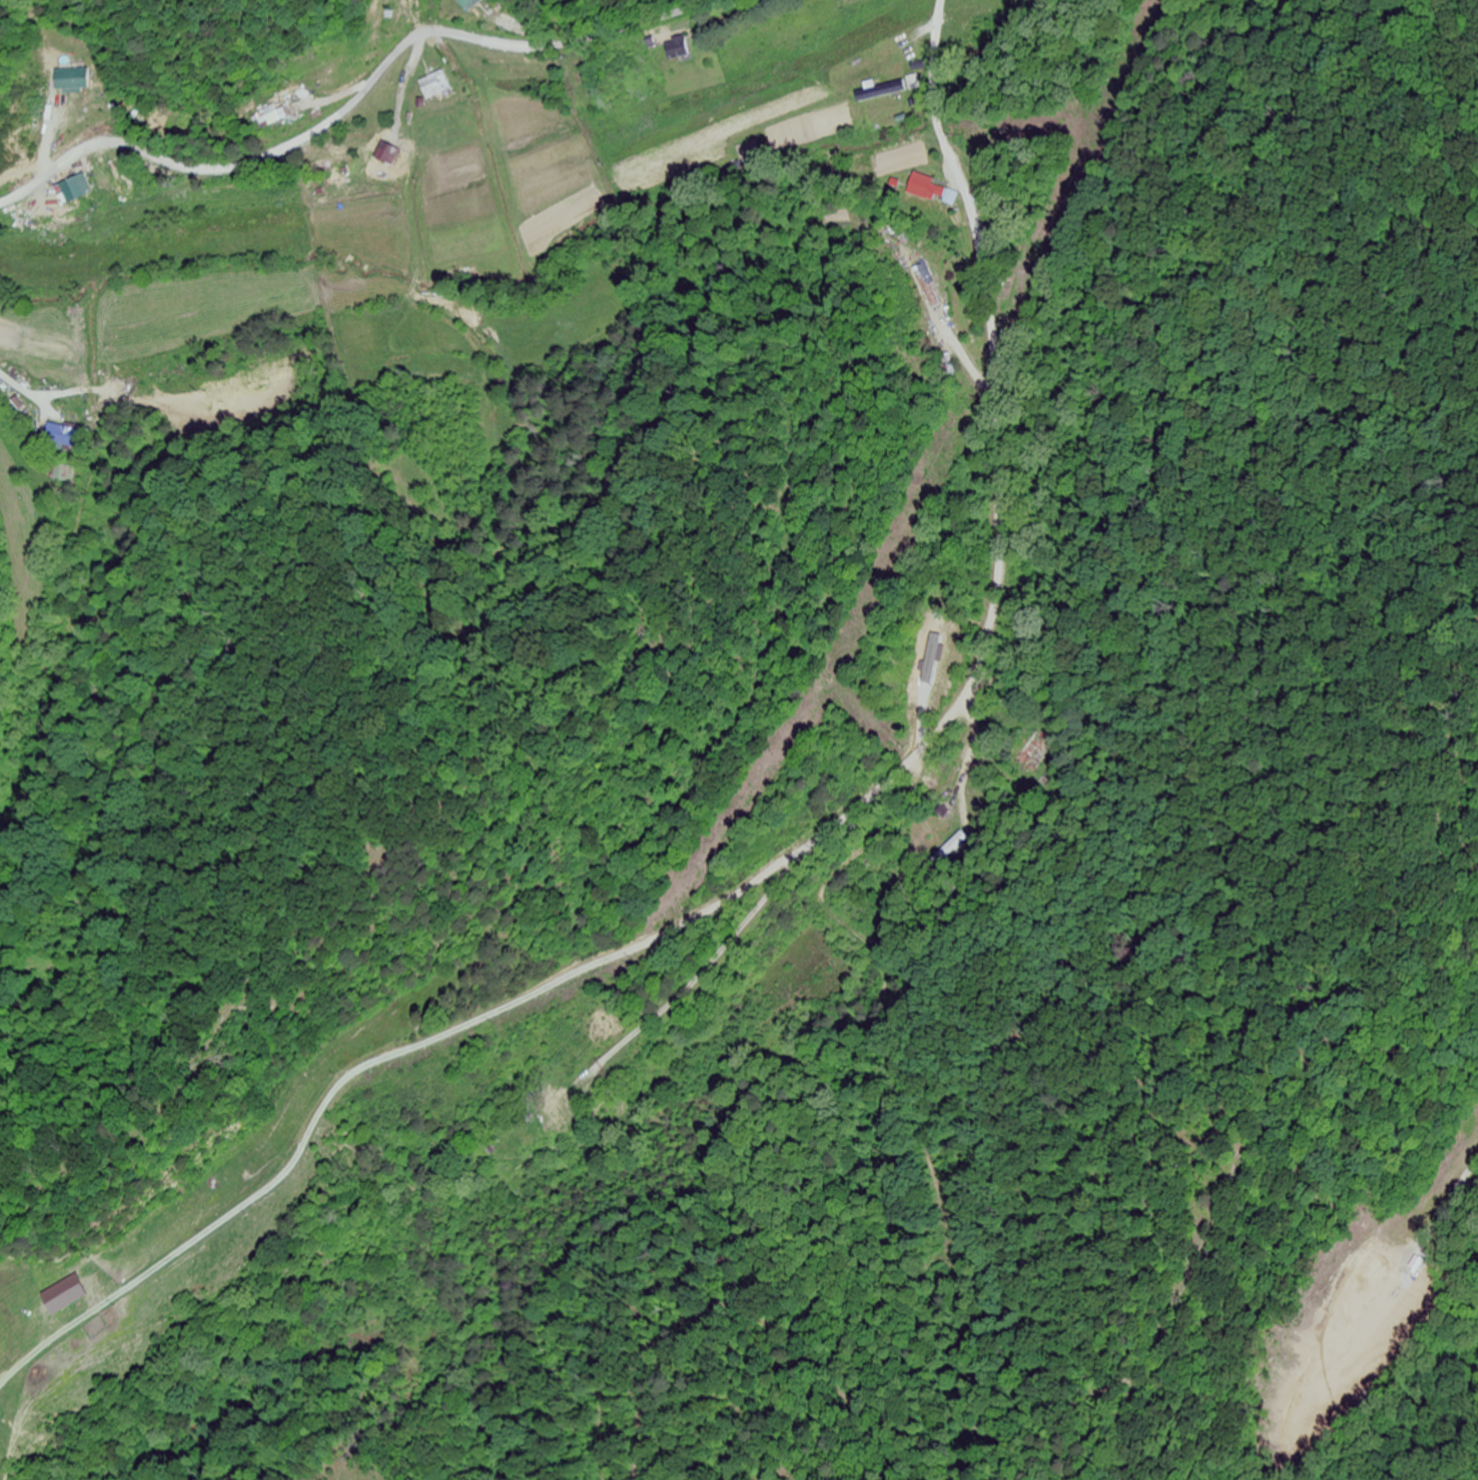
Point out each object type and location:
building: (468, 5)
building: (677, 49)
building: (69, 80)
road: (186, 85)
building: (434, 87)
building: (882, 92)
road: (360, 95)
building: (385, 164)
building: (930, 288)
building: (238, 394)
building: (62, 436)
building: (64, 474)
road: (996, 590)
building: (1033, 753)
road: (727, 891)
building: (591, 1092)
building: (558, 1114)
road: (1456, 1206)
building: (1382, 1282)
building: (62, 1297)

